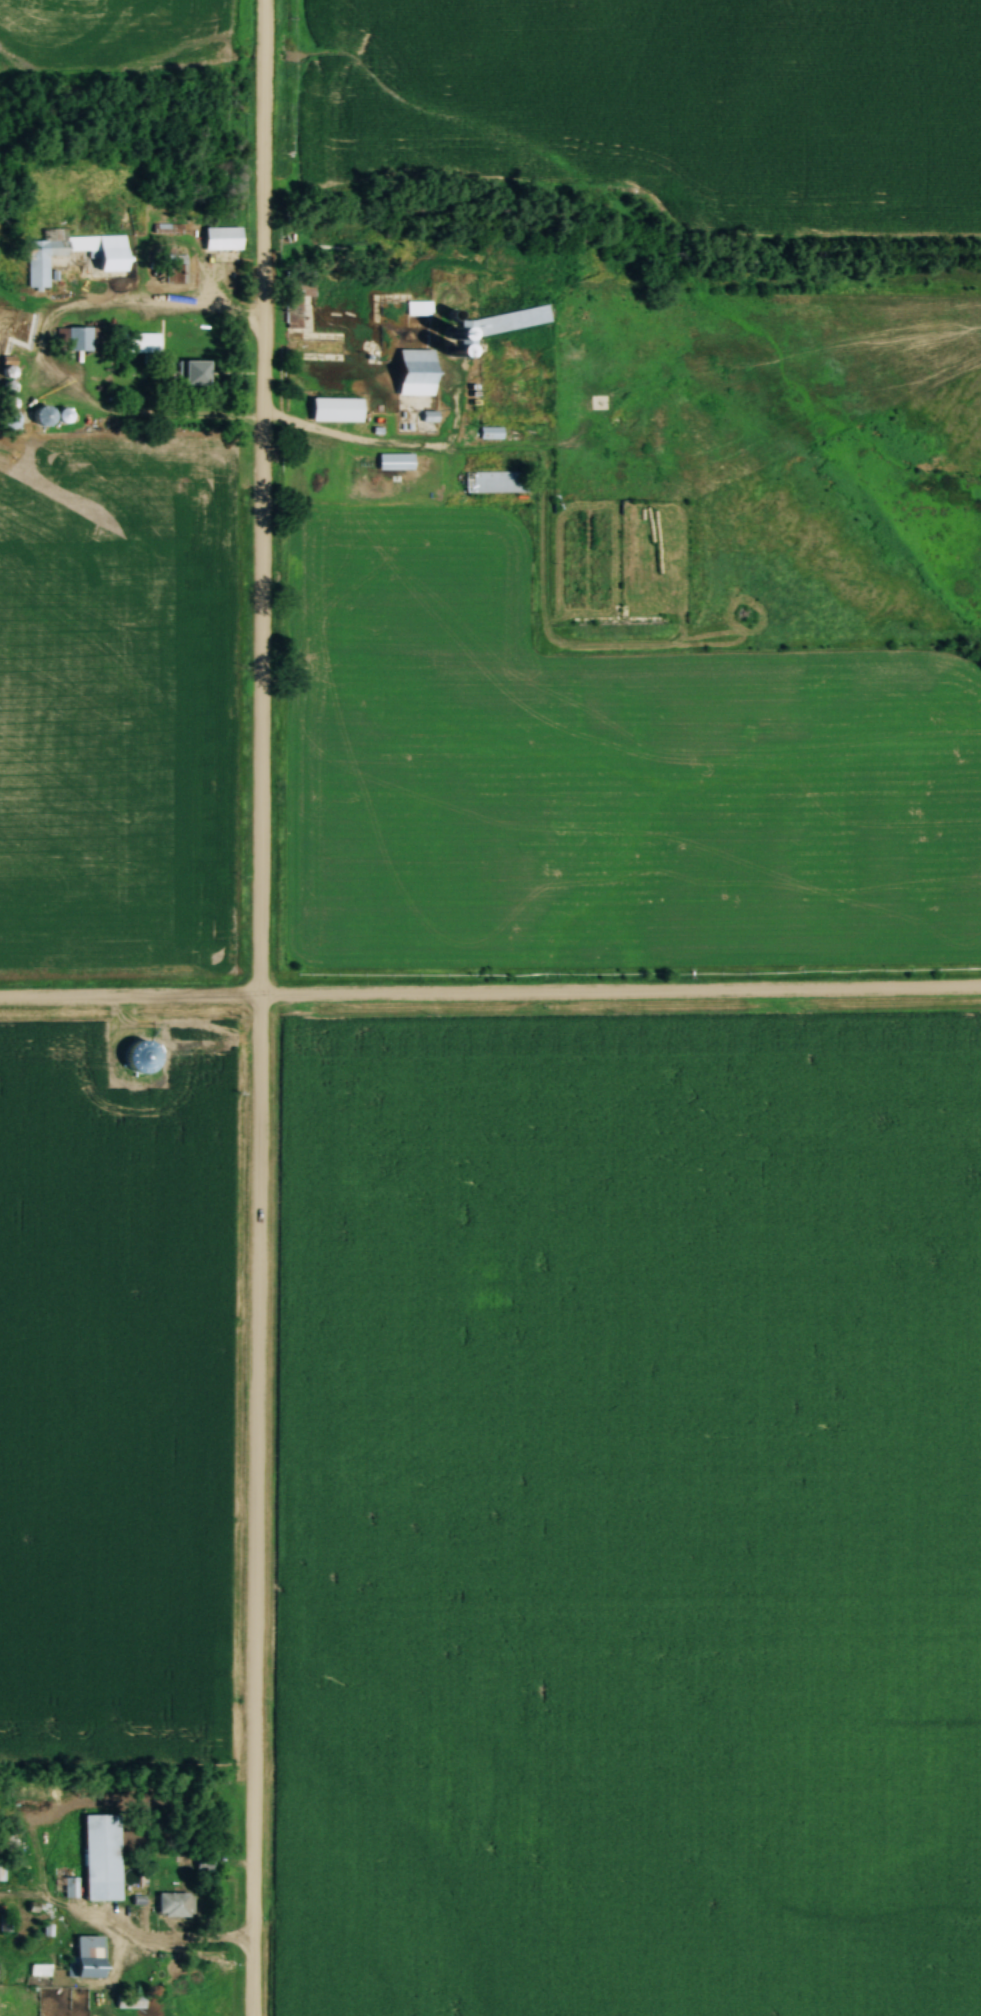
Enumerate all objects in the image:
building: (223, 238)
building: (75, 253)
building: (419, 308)
building: (499, 324)
building: (79, 338)
building: (142, 342)
building: (195, 371)
building: (418, 372)
building: (65, 414)
building: (46, 415)
building: (429, 416)
building: (492, 432)
road: (353, 441)
building: (396, 461)
building: (498, 481)
road: (619, 995)
road: (129, 999)
road: (257, 1008)
building: (103, 1857)
building: (65, 1887)
building: (175, 1905)
building: (92, 1957)

